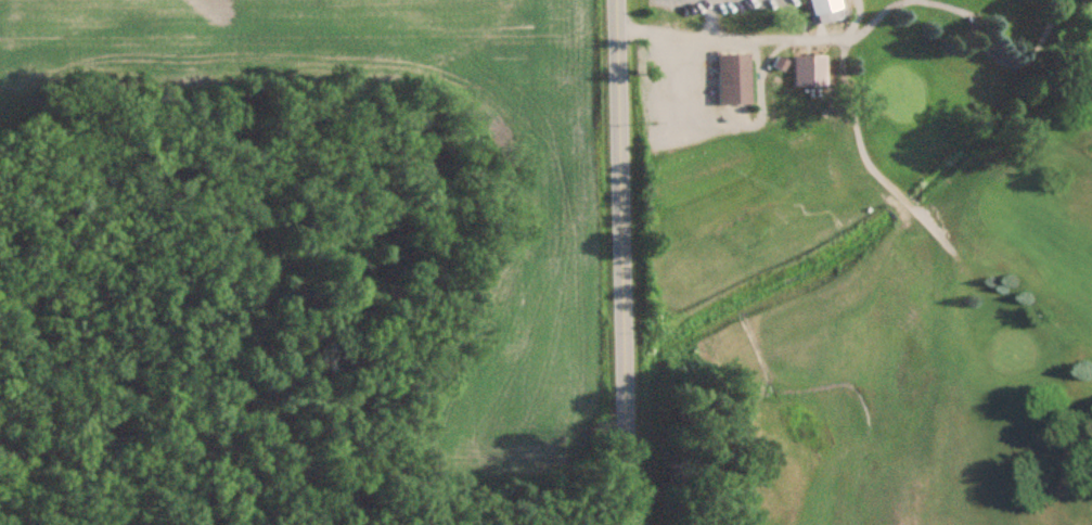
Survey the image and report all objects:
building: (823, 7)
road: (681, 36)
road: (797, 38)
building: (810, 73)
building: (734, 79)
road: (620, 261)
park: (869, 261)

